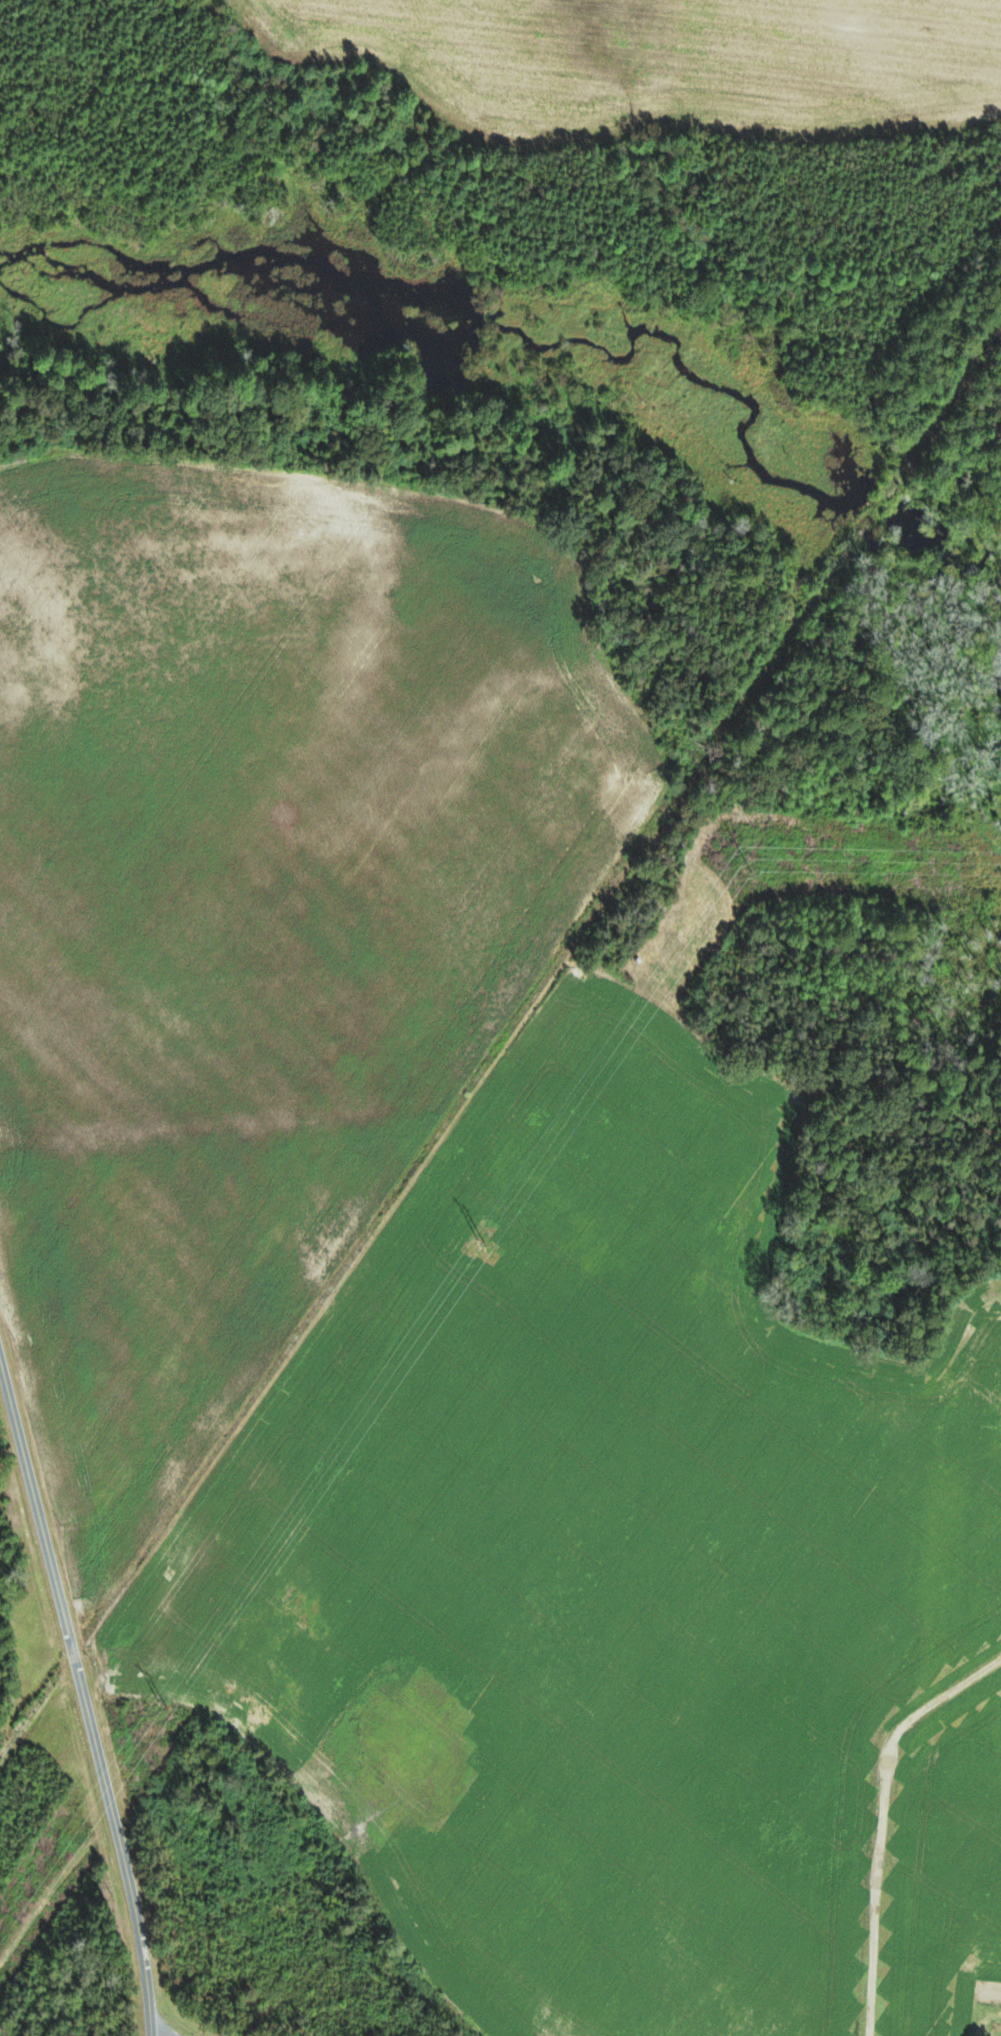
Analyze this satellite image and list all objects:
railway: (933, 431)
railway: (862, 531)
power tower: (747, 859)
railway: (427, 1149)
power tower: (484, 1242)
road: (84, 1700)
power tower: (165, 1700)
road: (880, 1818)

